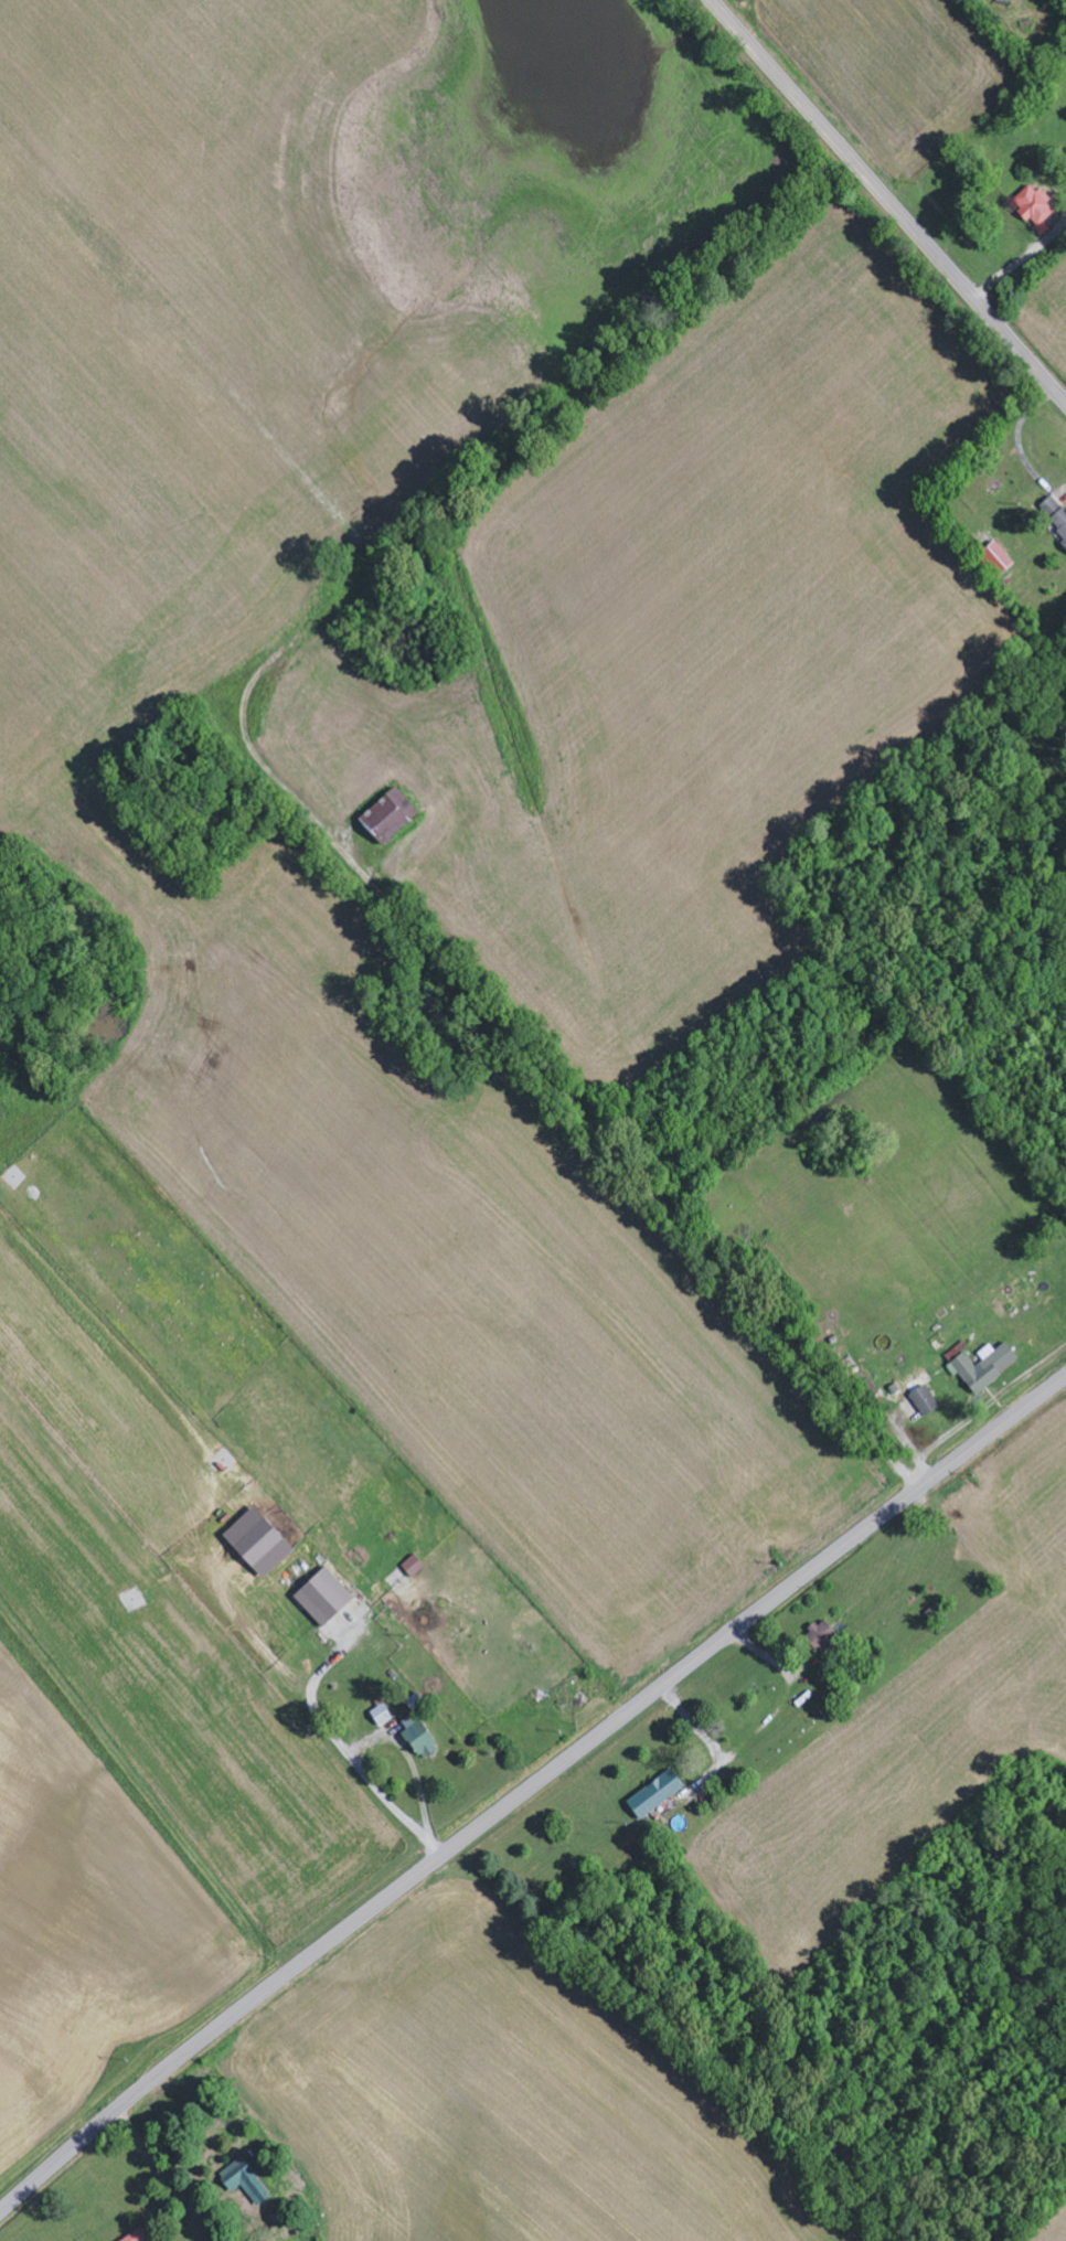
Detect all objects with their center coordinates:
road: (891, 200)
building: (1036, 206)
building: (1052, 506)
building: (1062, 522)
building: (1065, 544)
building: (1002, 558)
building: (393, 818)
building: (984, 1365)
building: (926, 1396)
building: (262, 1543)
building: (415, 1567)
building: (327, 1598)
building: (822, 1636)
building: (384, 1716)
building: (422, 1738)
road: (529, 1791)
building: (658, 1794)
building: (247, 2181)
building: (139, 2237)

